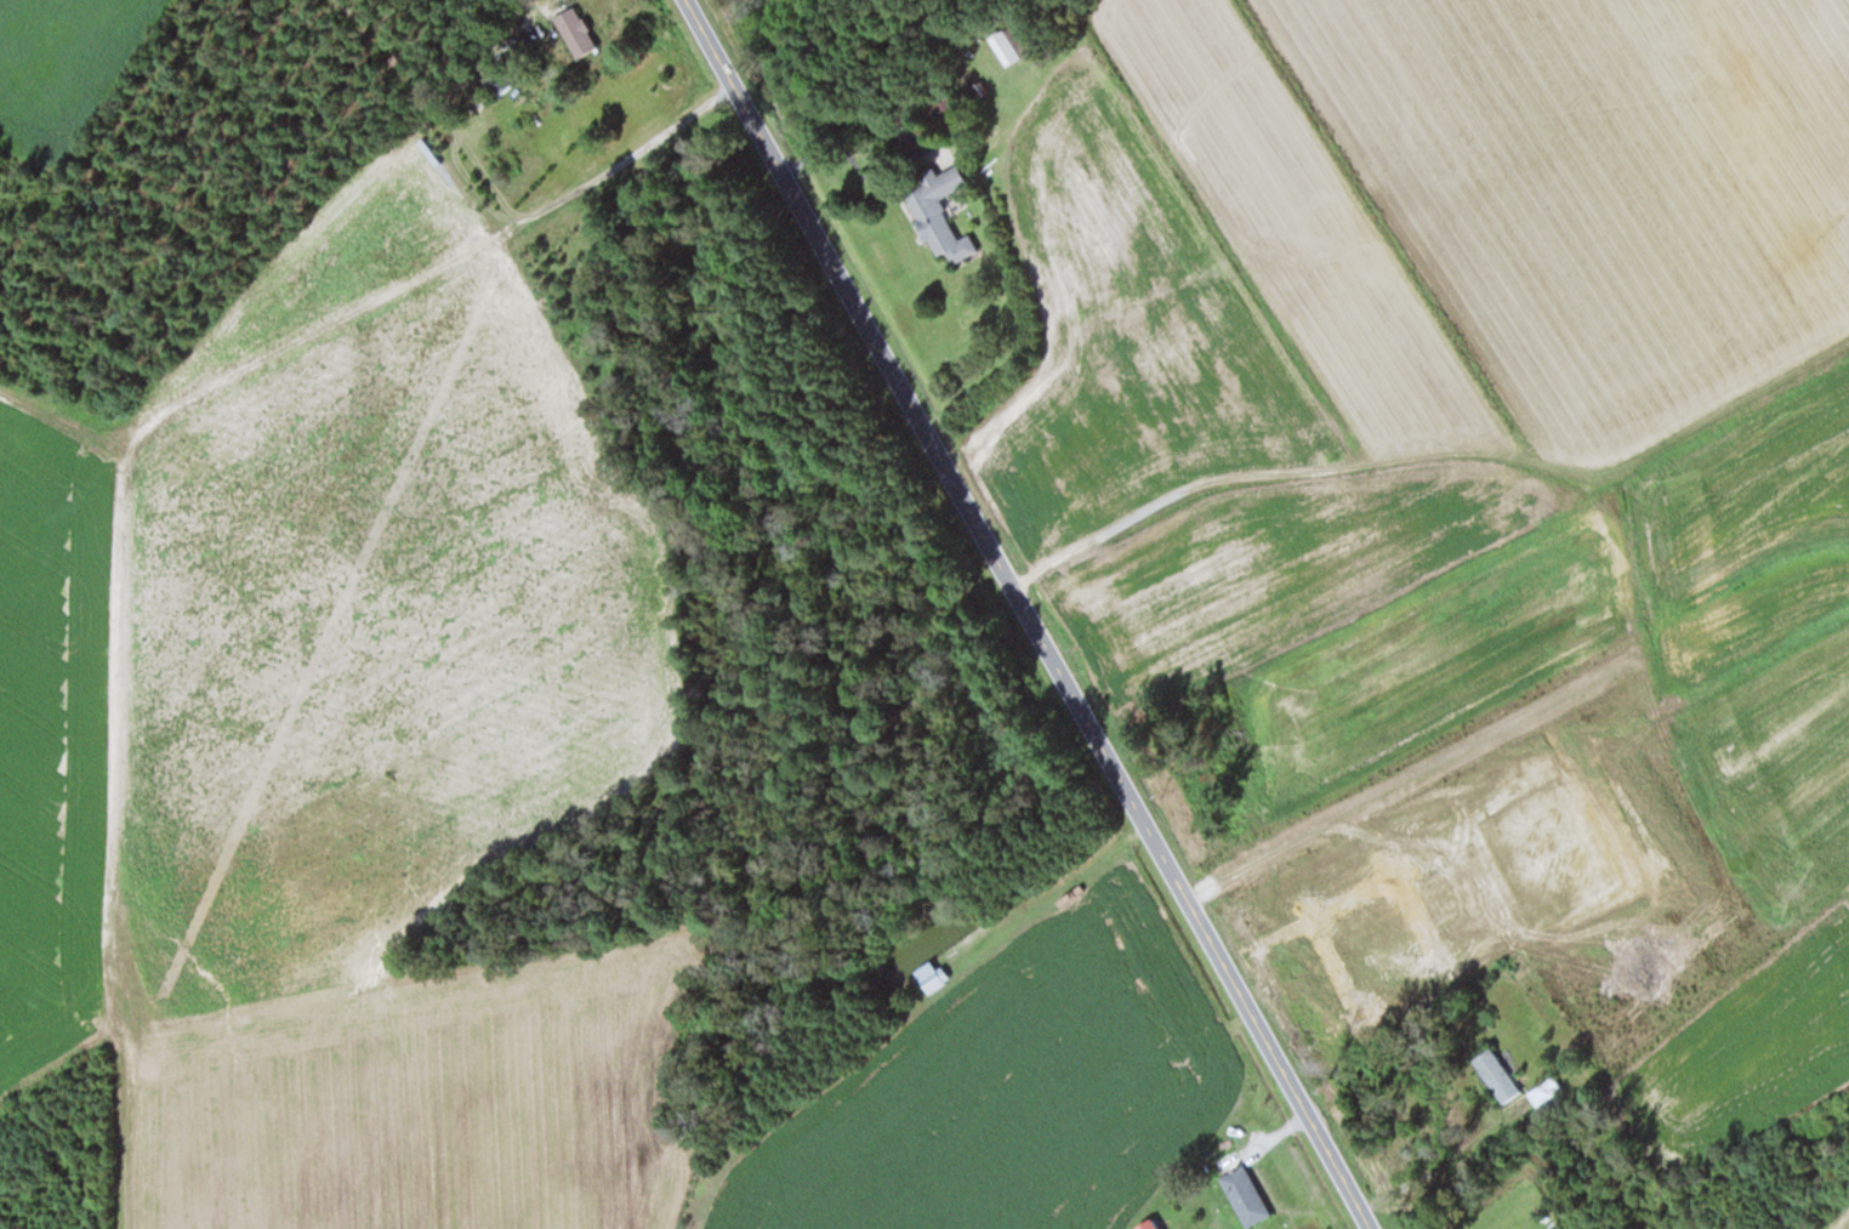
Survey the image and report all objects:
building: (584, 33)
building: (1001, 47)
building: (1360, 47)
road: (413, 126)
building: (935, 212)
road: (1026, 614)
building: (939, 974)
building: (1494, 1075)
building: (1242, 1196)

